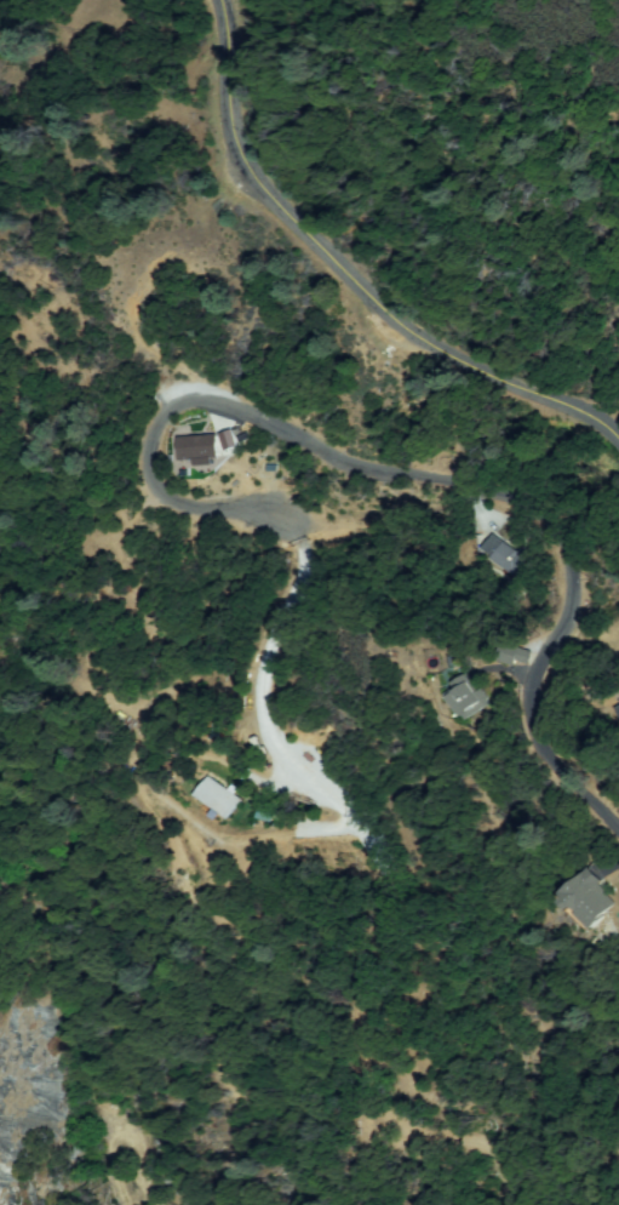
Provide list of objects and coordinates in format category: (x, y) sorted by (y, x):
road: (348, 275)
building: (227, 440)
building: (196, 450)
road: (457, 482)
building: (505, 556)
building: (506, 652)
building: (466, 697)
building: (618, 710)
building: (217, 798)
building: (262, 815)
building: (592, 898)

